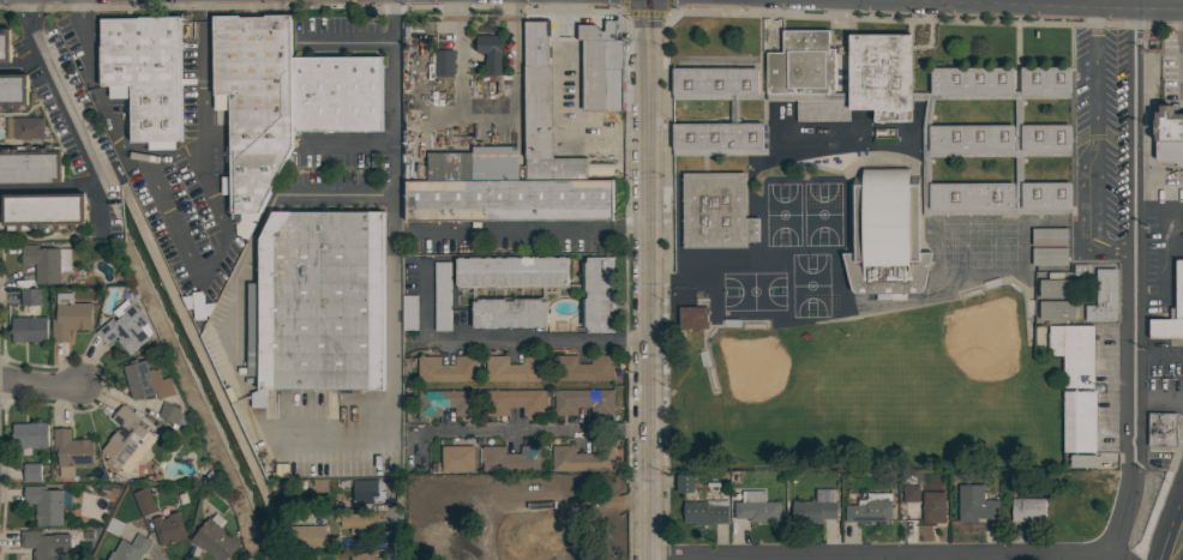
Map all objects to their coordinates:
road: (1133, 10)
road: (708, 13)
road: (348, 36)
building: (4, 44)
road: (36, 48)
building: (490, 53)
building: (443, 62)
building: (601, 67)
building: (145, 71)
parking lot: (1167, 71)
building: (538, 74)
building: (800, 76)
building: (13, 91)
building: (336, 94)
building: (254, 103)
building: (733, 110)
parking lot: (1177, 110)
building: (1166, 126)
building: (29, 128)
road: (80, 139)
building: (995, 141)
road: (1094, 145)
road: (175, 153)
building: (1169, 153)
building: (557, 159)
building: (30, 164)
building: (474, 164)
road: (47, 188)
building: (509, 199)
building: (43, 211)
building: (715, 211)
road: (264, 216)
road: (478, 230)
road: (605, 230)
building: (885, 236)
building: (1050, 236)
building: (1049, 255)
building: (48, 263)
road: (192, 269)
building: (511, 272)
road: (391, 277)
road: (645, 279)
road: (1133, 285)
building: (1056, 288)
building: (1178, 290)
building: (597, 294)
building: (29, 296)
building: (442, 296)
building: (1103, 297)
building: (318, 302)
building: (1056, 309)
building: (408, 312)
building: (509, 312)
building: (70, 317)
building: (692, 318)
building: (125, 327)
building: (29, 329)
building: (1165, 330)
road: (500, 337)
building: (1074, 353)
road: (1158, 355)
building: (515, 368)
building: (583, 368)
building: (446, 369)
building: (146, 380)
road: (37, 384)
building: (584, 401)
building: (448, 402)
building: (515, 402)
building: (170, 414)
building: (1079, 421)
road: (528, 429)
building: (1161, 429)
building: (130, 434)
building: (29, 436)
building: (71, 451)
building: (457, 458)
building: (583, 458)
building: (512, 459)
building: (1081, 460)
building: (32, 472)
building: (685, 483)
building: (547, 484)
building: (494, 487)
building: (364, 494)
building: (911, 494)
building: (144, 501)
building: (46, 504)
building: (974, 504)
building: (933, 506)
building: (323, 507)
building: (756, 507)
building: (815, 507)
building: (870, 508)
building: (1027, 510)
building: (707, 511)
building: (463, 519)
building: (359, 523)
building: (114, 525)
building: (168, 529)
road: (395, 531)
building: (312, 537)
building: (215, 538)
building: (438, 541)
building: (362, 542)
road: (1177, 544)
building: (46, 546)
building: (131, 549)
road: (879, 554)
building: (358, 556)
building: (584, 558)

